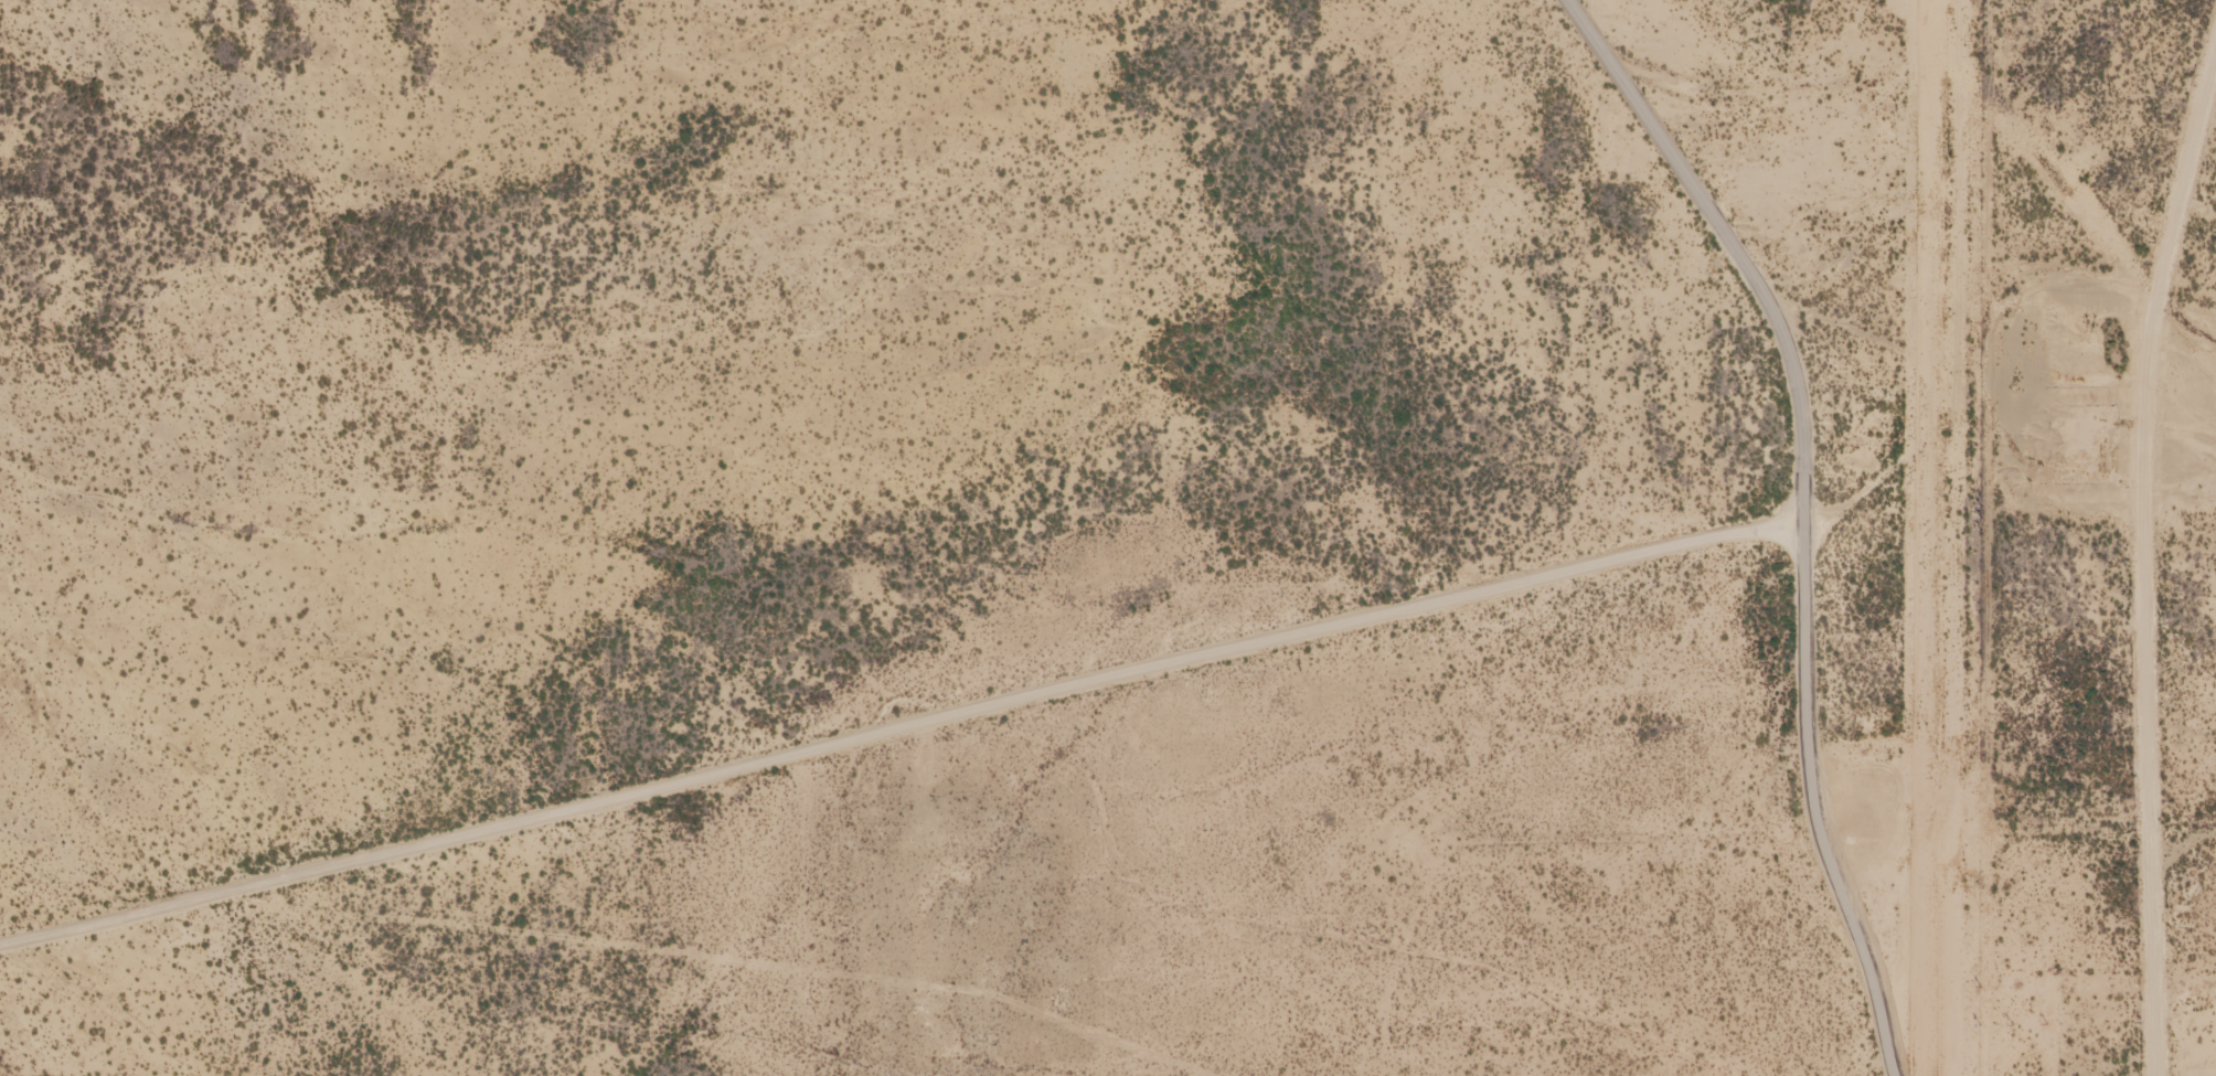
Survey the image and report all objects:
road: (1808, 510)
road: (1982, 537)
road: (456, 565)
road: (1345, 604)
road: (443, 796)
road: (1291, 919)

